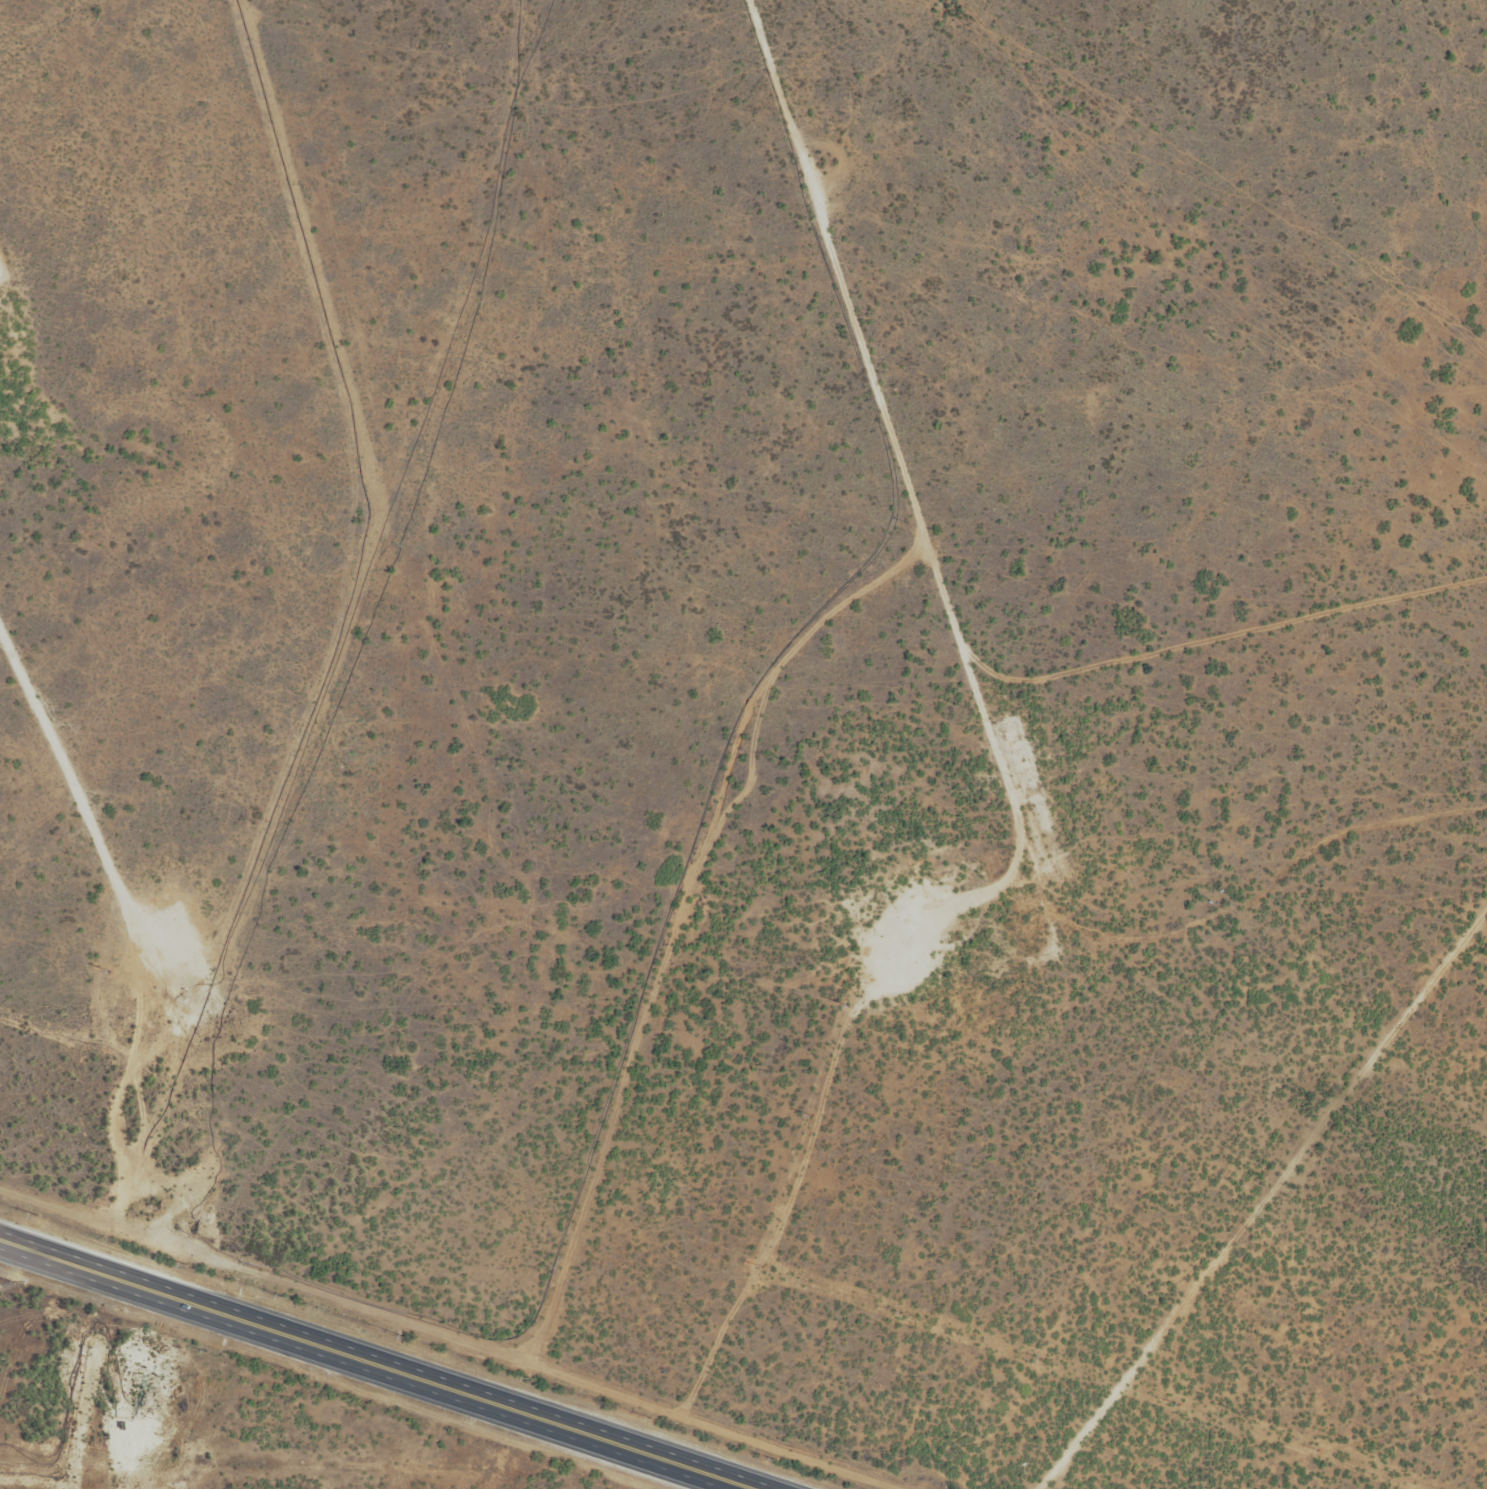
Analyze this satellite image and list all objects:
road: (371, 1365)

